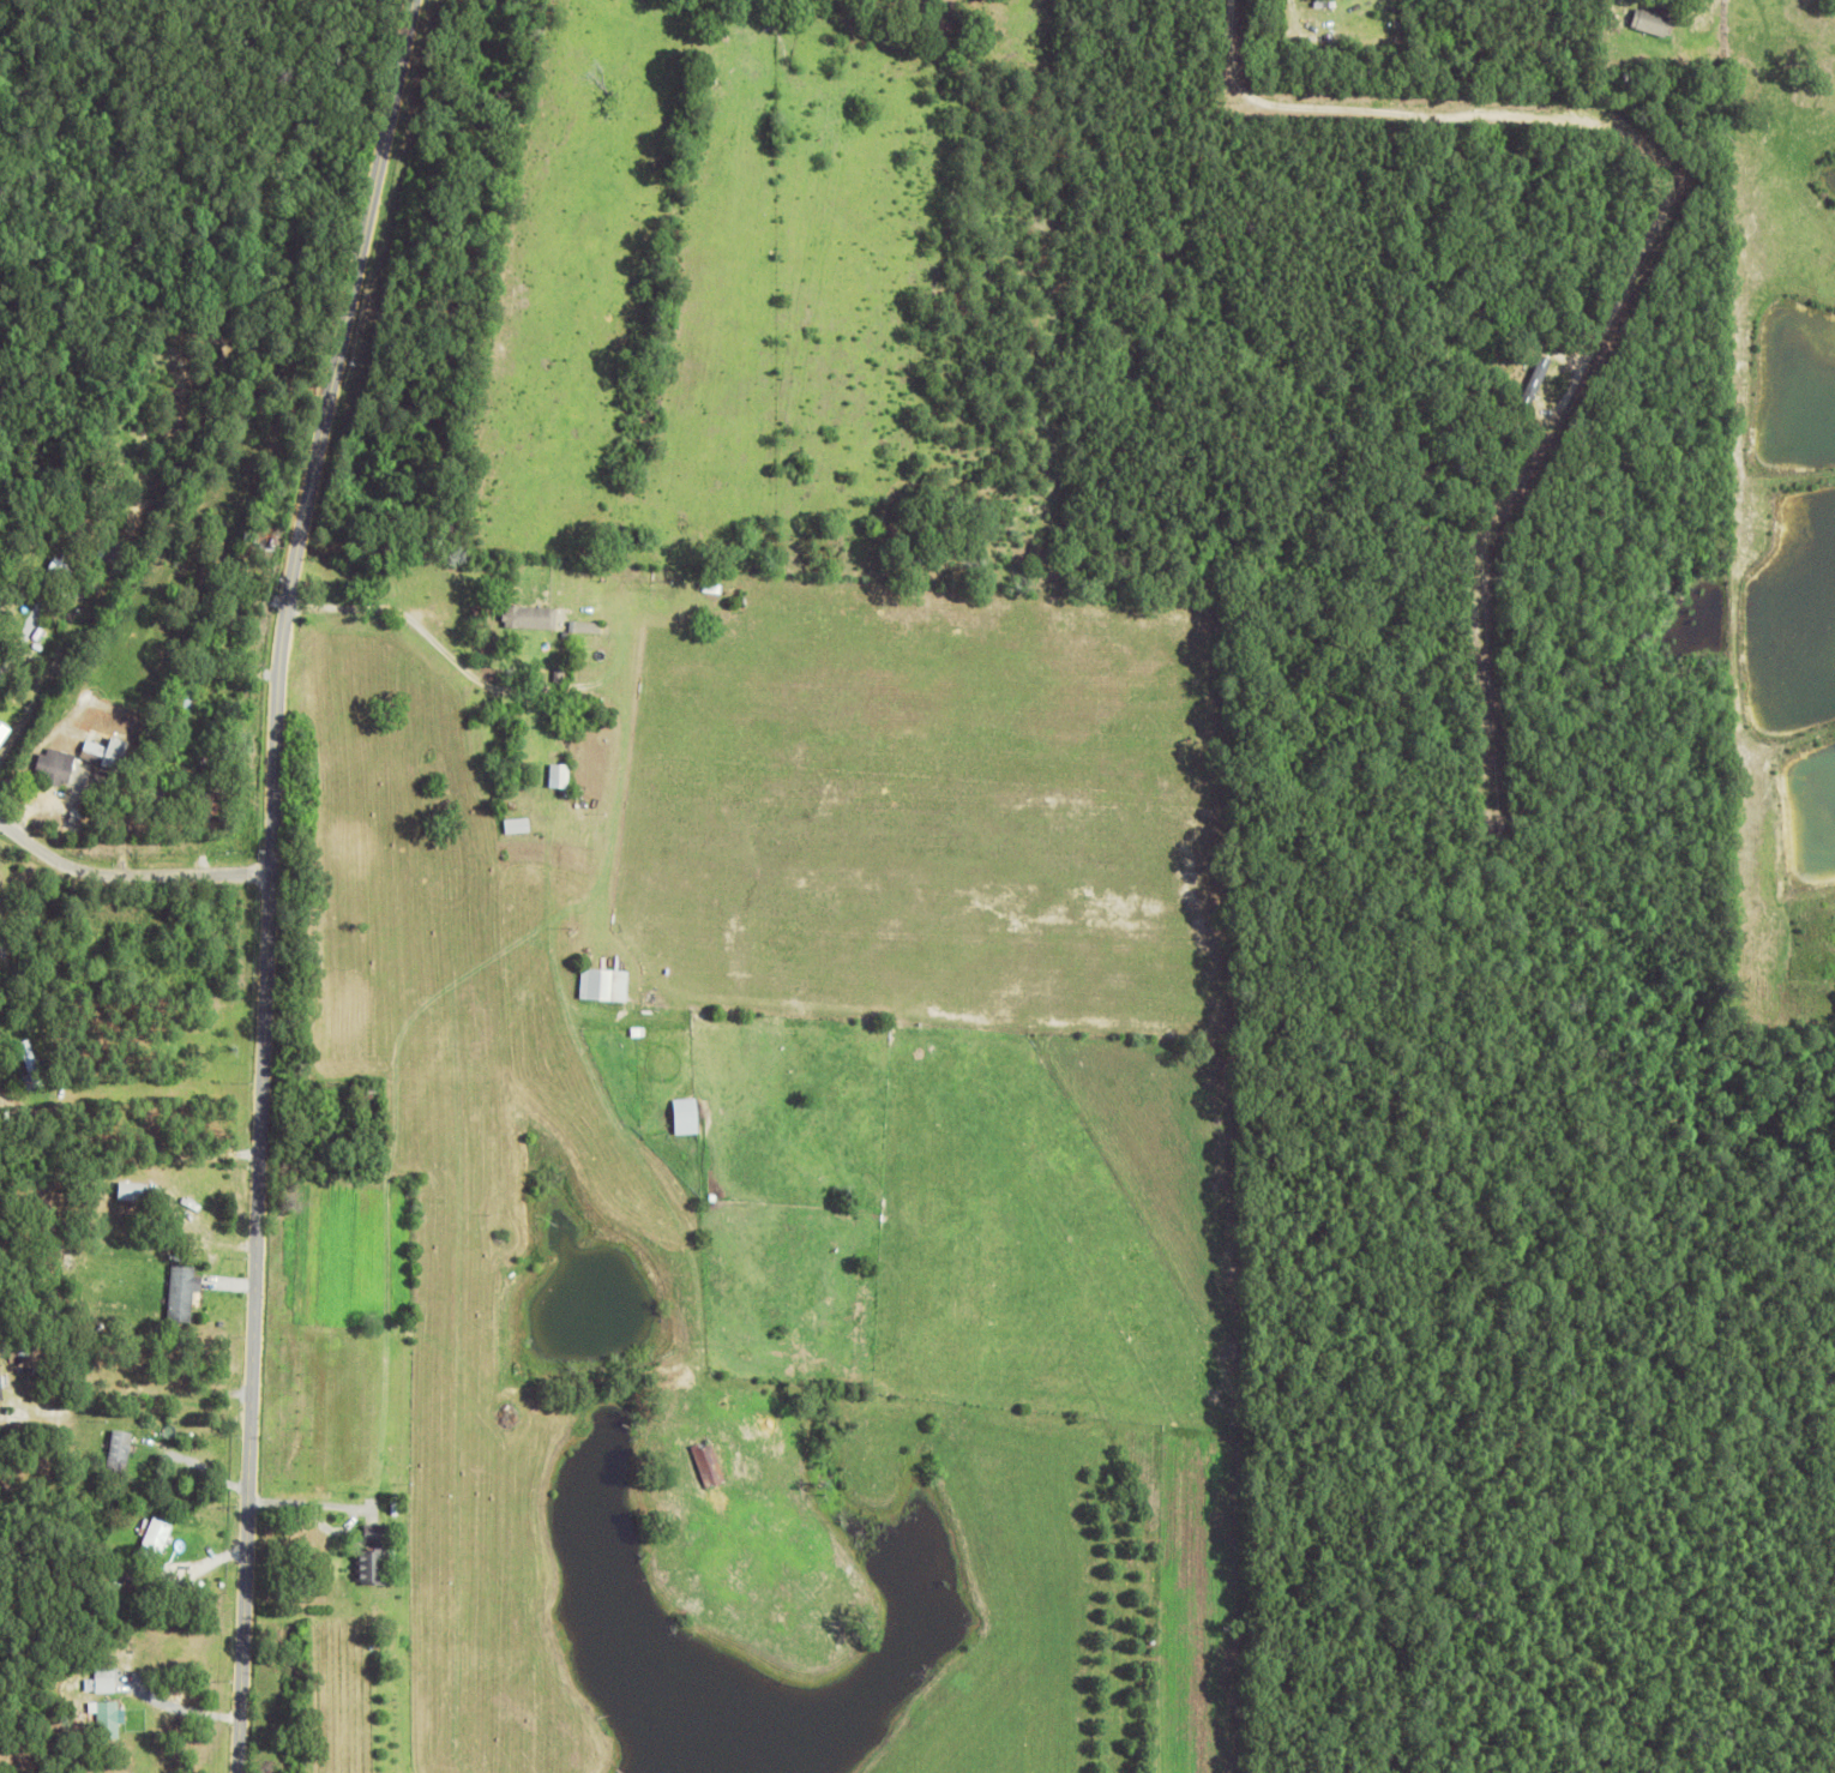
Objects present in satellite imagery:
building: (1328, 5)
building: (1654, 22)
building: (1529, 380)
building: (267, 399)
building: (97, 485)
building: (267, 540)
building: (58, 576)
building: (78, 594)
building: (571, 612)
building: (531, 619)
building: (584, 629)
building: (560, 677)
building: (189, 703)
building: (199, 726)
building: (5, 733)
building: (106, 752)
building: (205, 765)
building: (56, 768)
building: (560, 779)
building: (17, 792)
building: (160, 804)
building: (215, 813)
building: (79, 816)
building: (579, 824)
building: (518, 827)
road: (130, 873)
road: (272, 879)
building: (597, 986)
building: (42, 1023)
building: (31, 1069)
building: (178, 1076)
building: (371, 1093)
building: (691, 1114)
building: (134, 1190)
building: (47, 1249)
building: (66, 1278)
building: (101, 1290)
building: (186, 1291)
building: (23, 1356)
building: (2, 1383)
building: (121, 1454)
building: (709, 1466)
building: (136, 1531)
building: (155, 1545)
building: (374, 1563)
building: (107, 1679)
building: (110, 1712)

